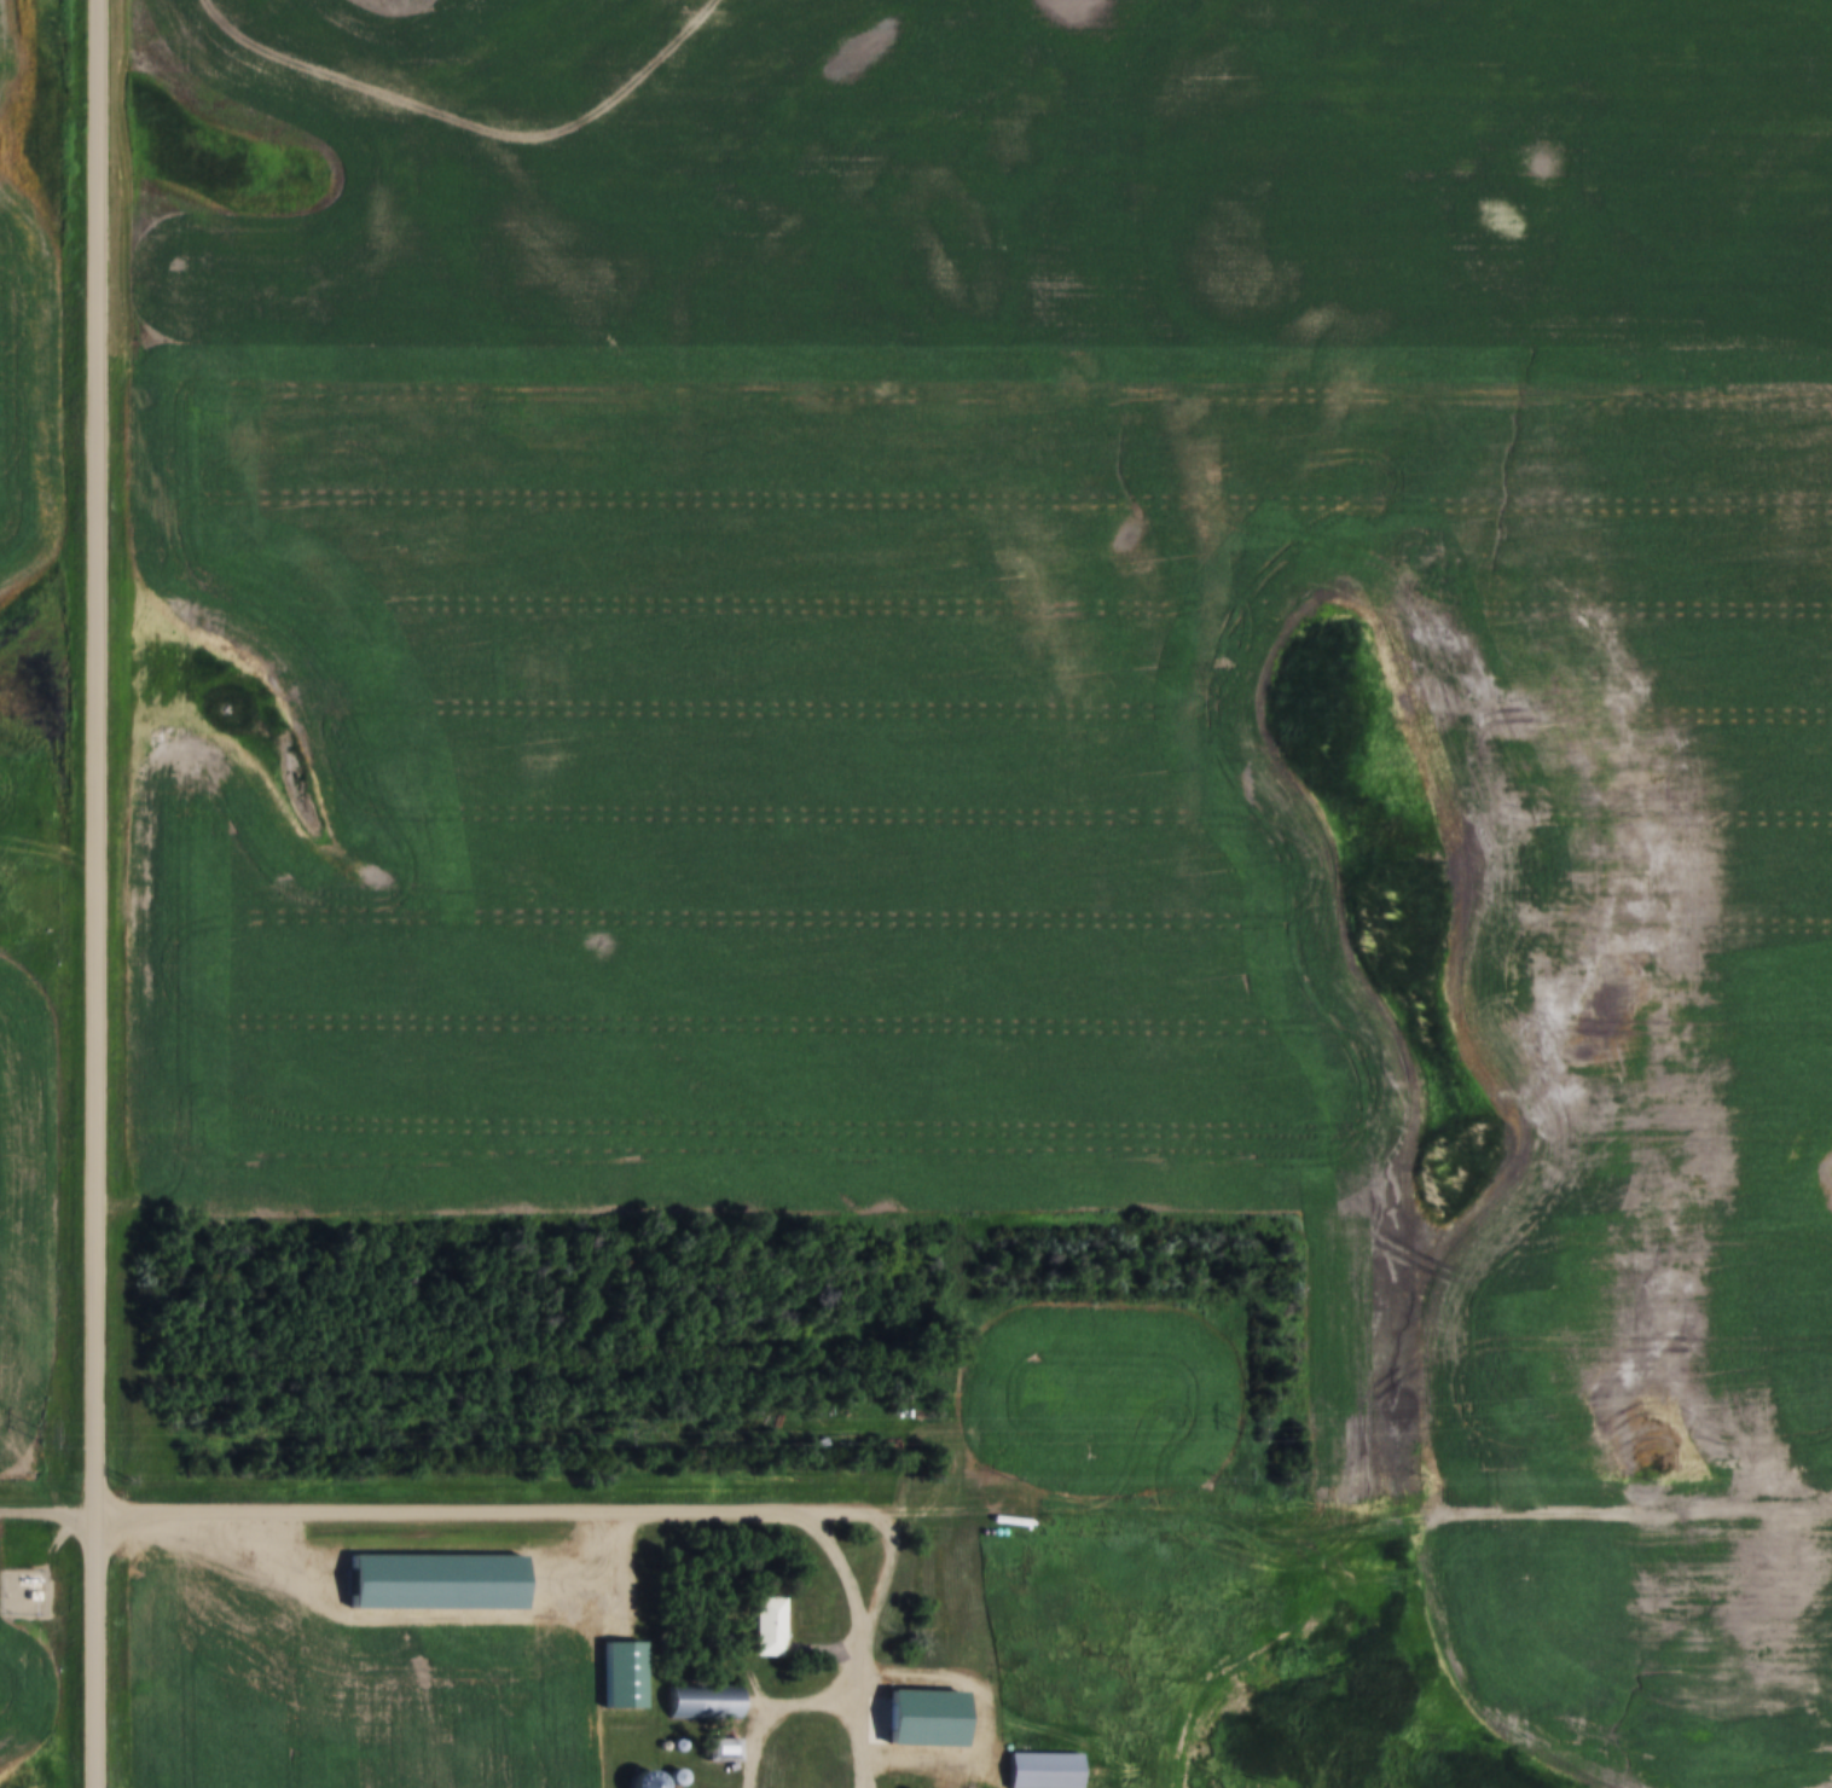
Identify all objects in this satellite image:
road: (94, 894)
road: (434, 1513)
building: (770, 1627)
building: (963, 1648)
building: (624, 1677)
building: (705, 1702)
building: (723, 1751)
building: (1043, 1770)
building: (647, 1780)

